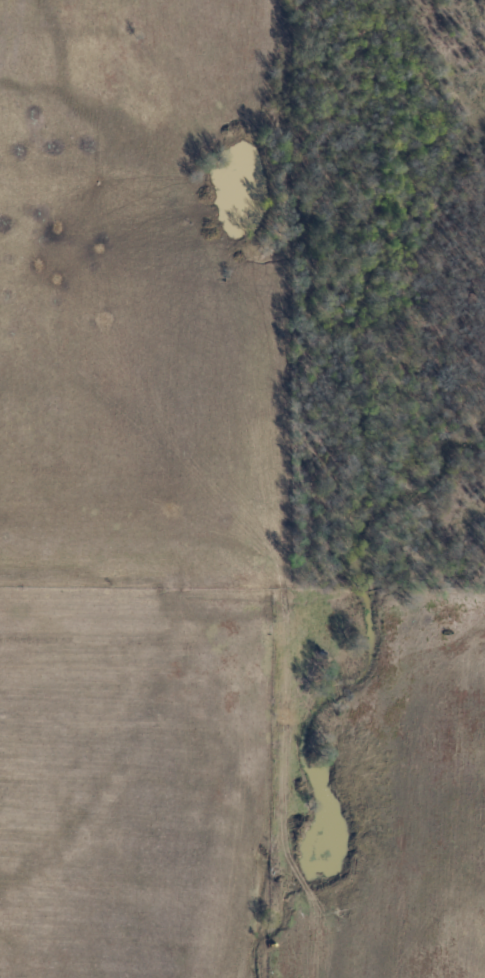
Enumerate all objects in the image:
airport runway: (314, 944)

